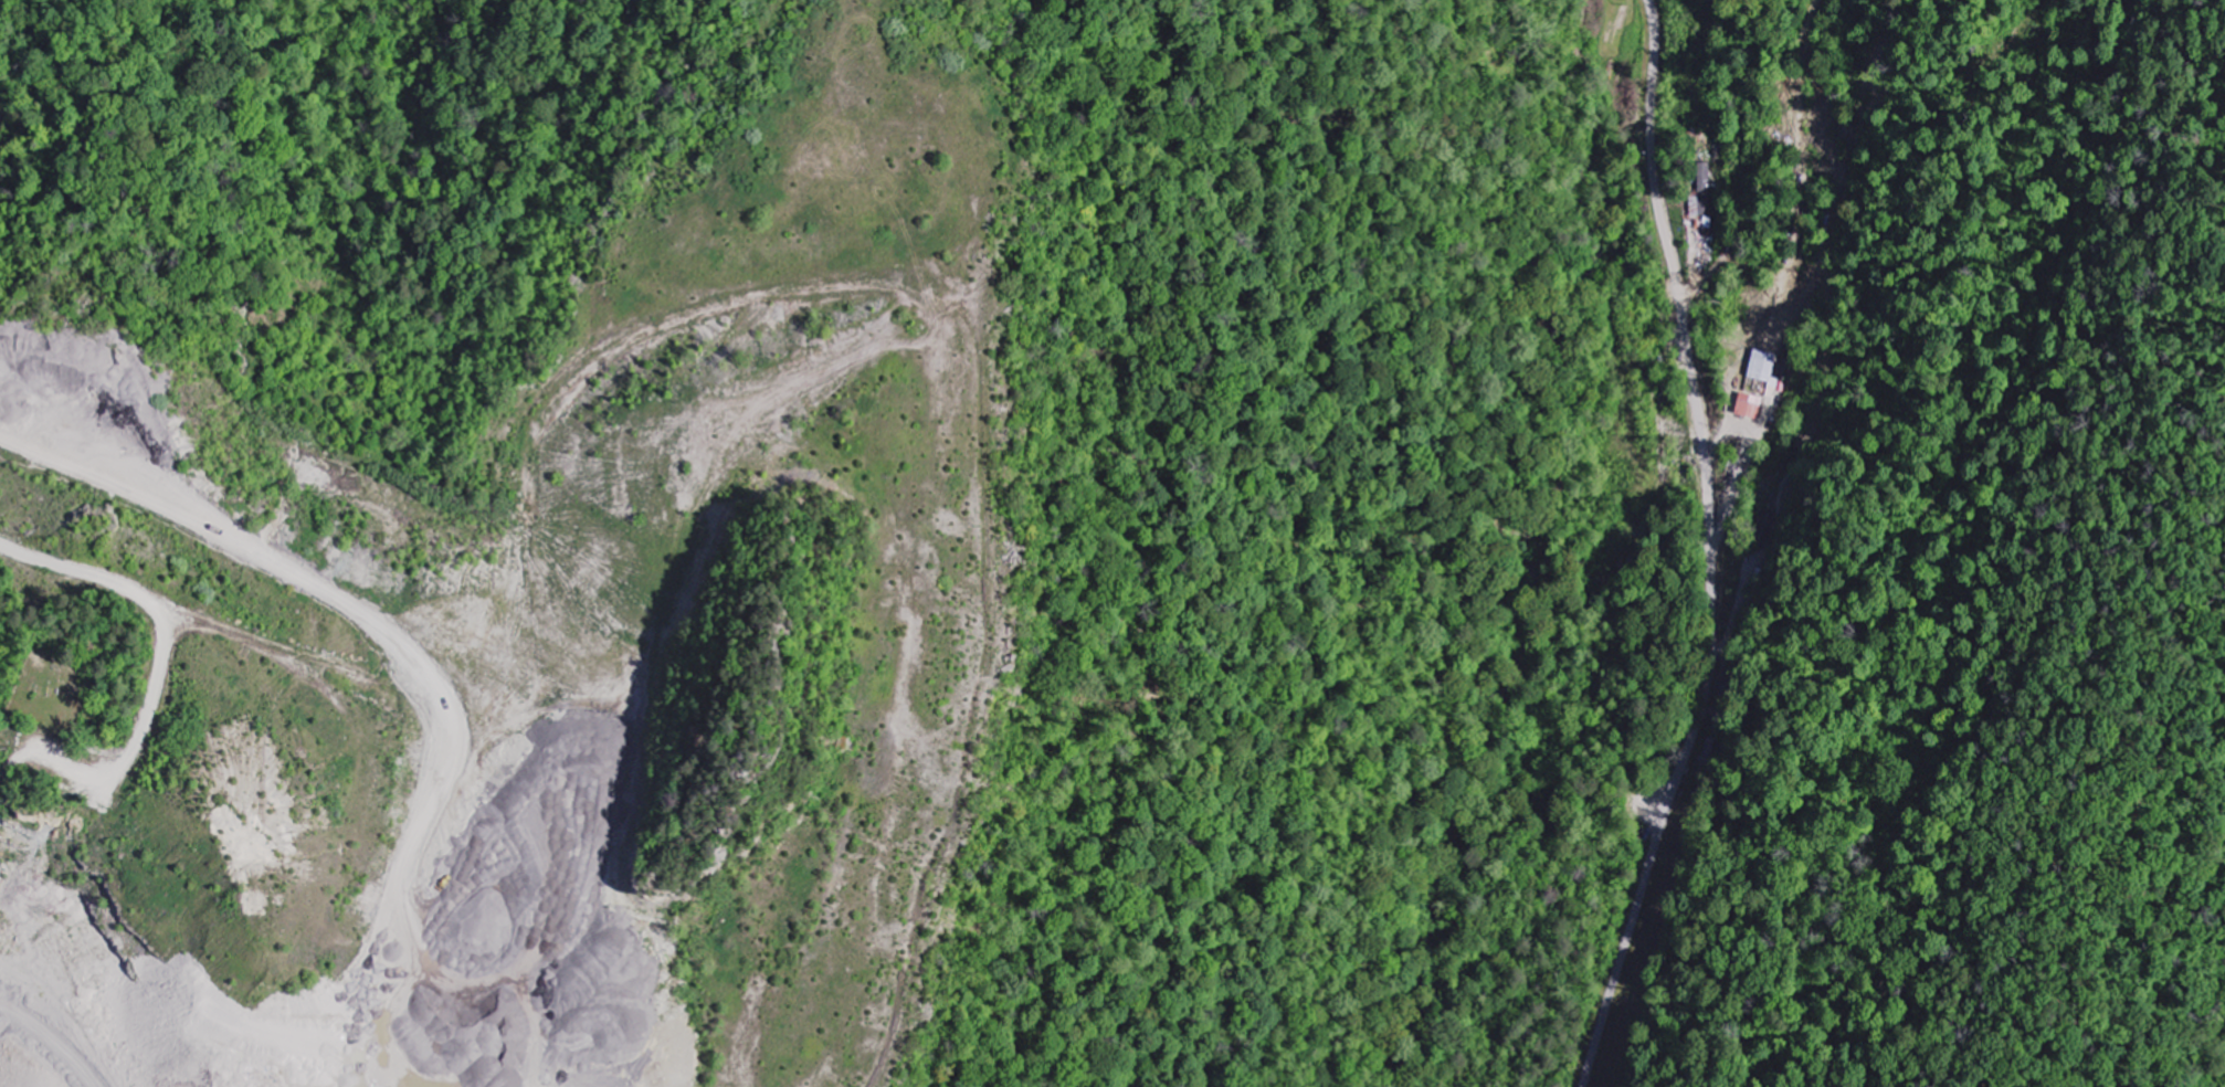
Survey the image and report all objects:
building: (1762, 366)
building: (1749, 407)
road: (1709, 549)
road: (398, 648)

